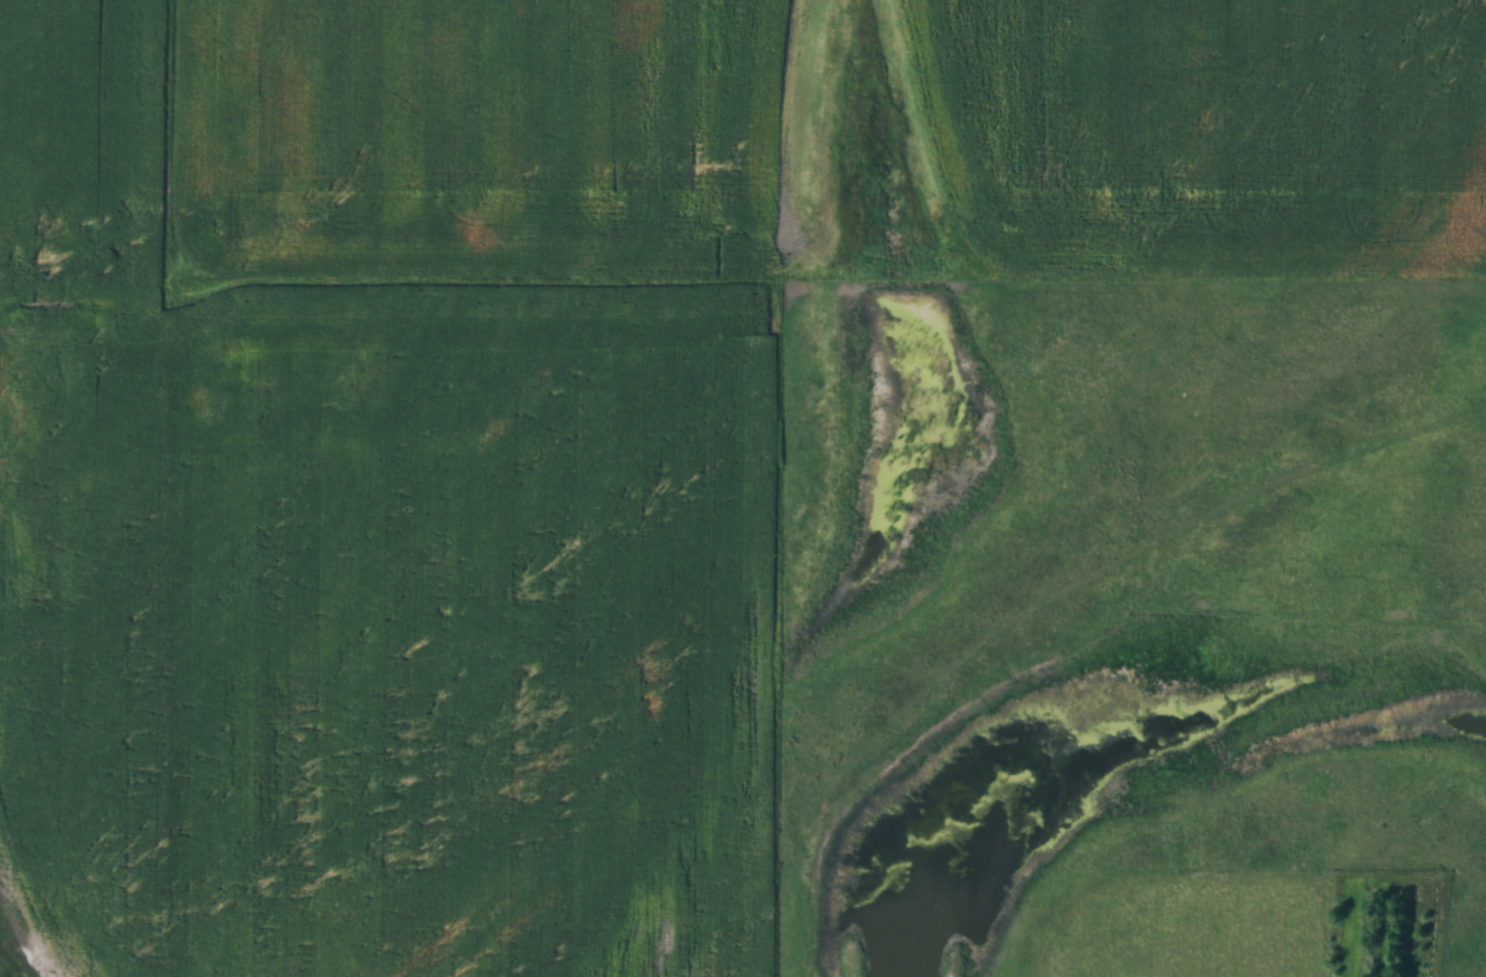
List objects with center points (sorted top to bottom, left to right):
road: (743, 279)

